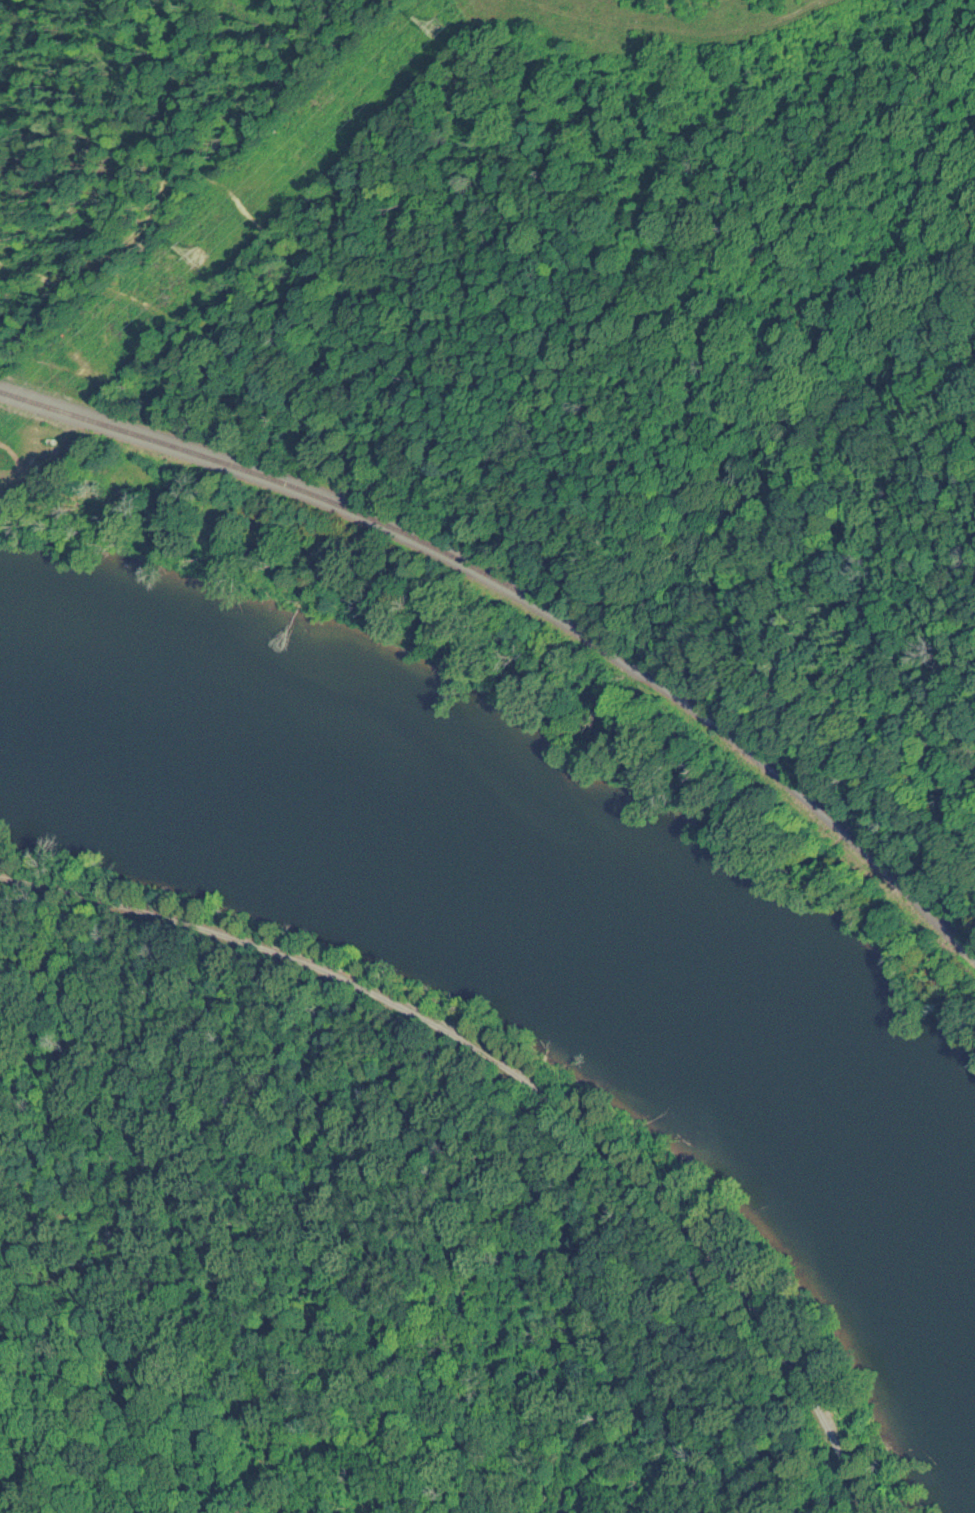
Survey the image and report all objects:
power tower: (192, 254)
railway: (527, 604)
river: (558, 899)
road: (522, 1076)

